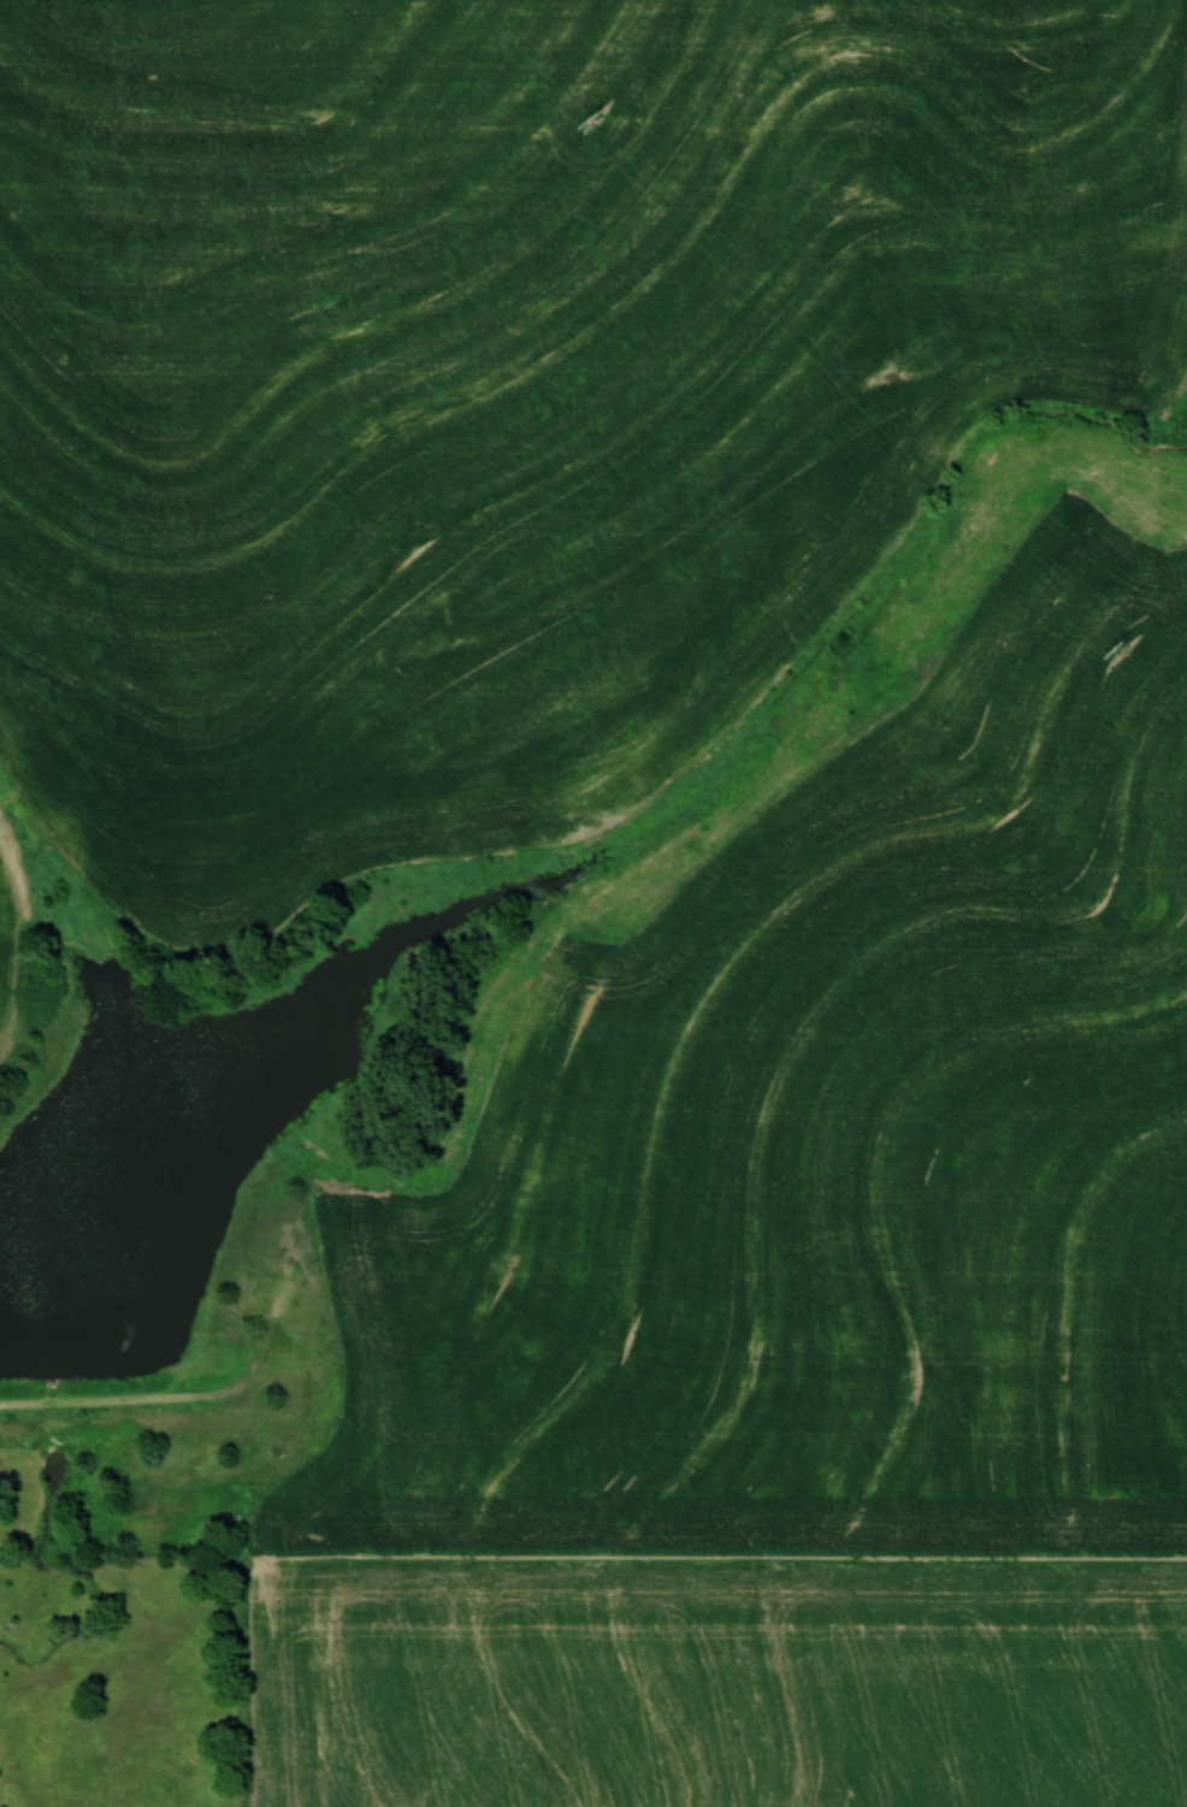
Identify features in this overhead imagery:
power tower: (597, 120)
power tower: (1129, 655)

